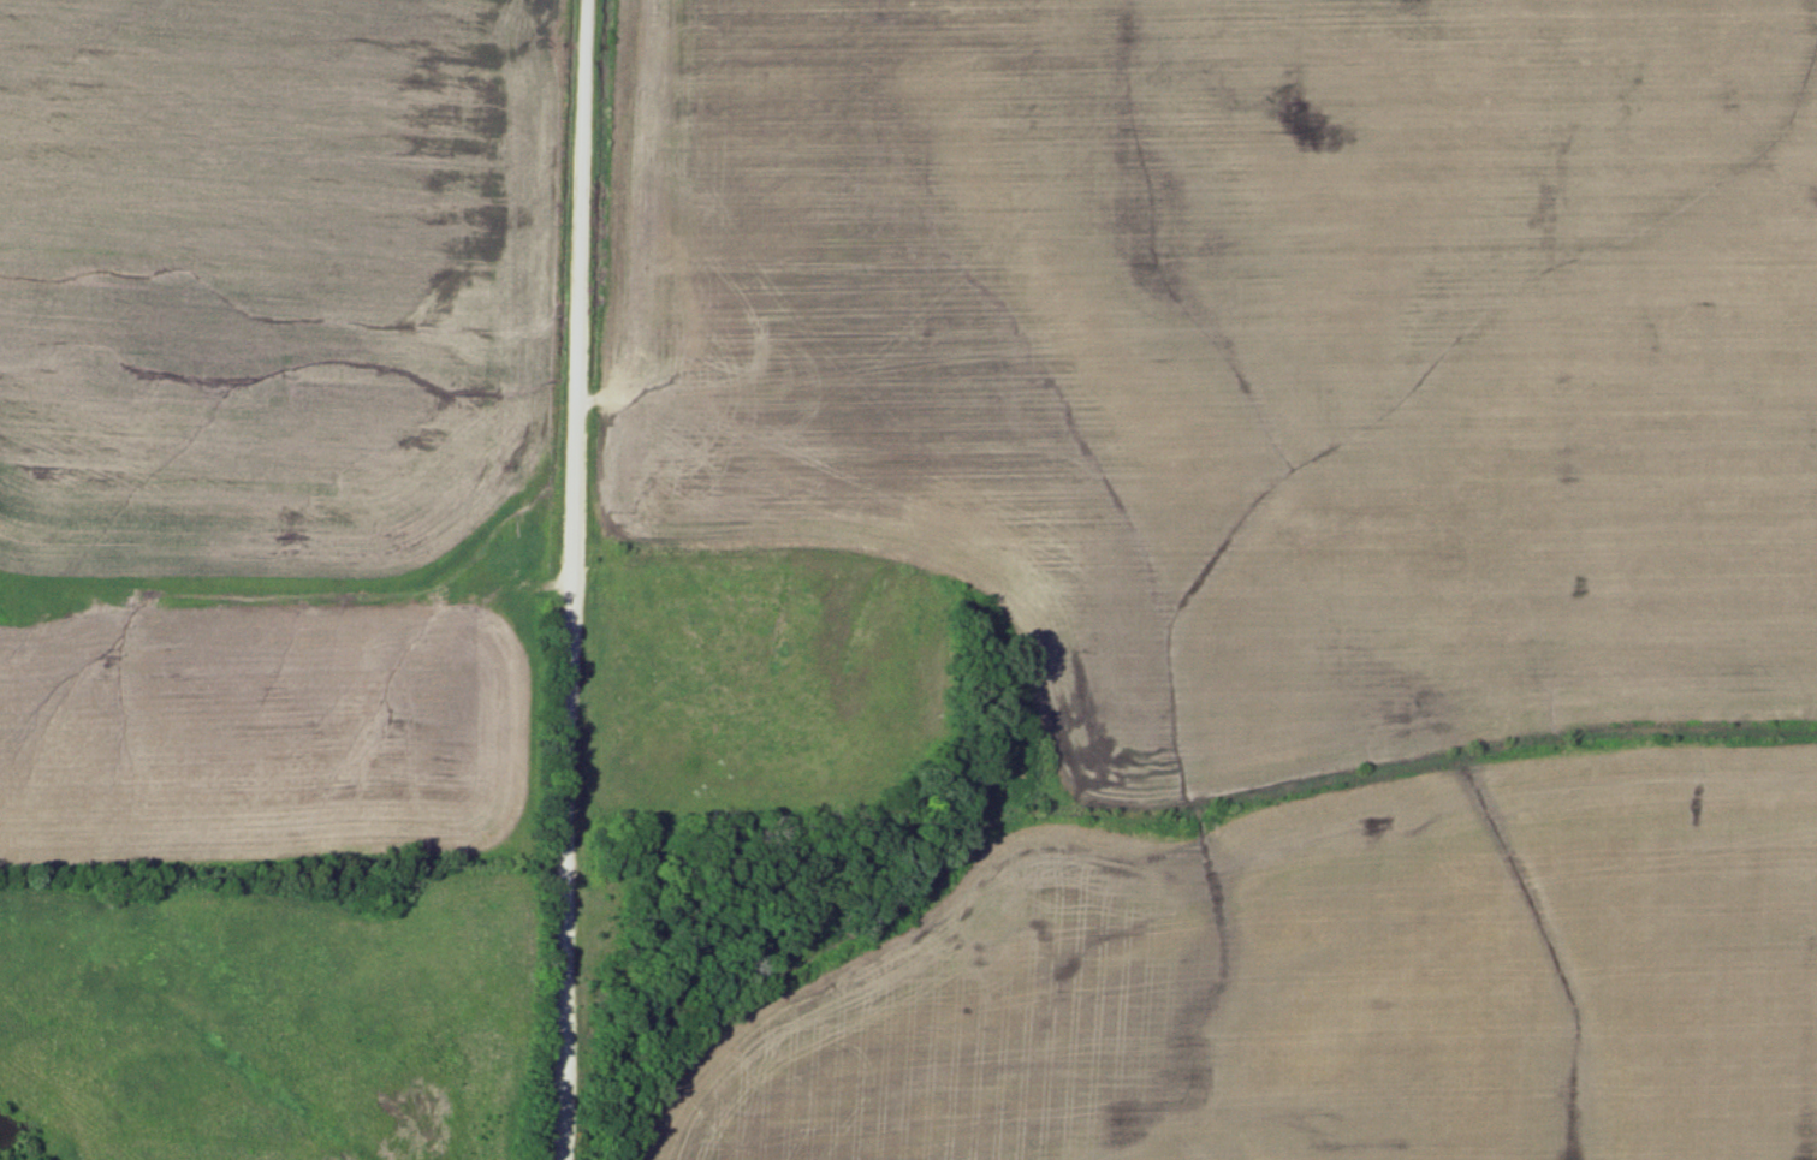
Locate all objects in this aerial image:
crop: (1199, 380)
road: (569, 579)
crop: (1330, 993)

